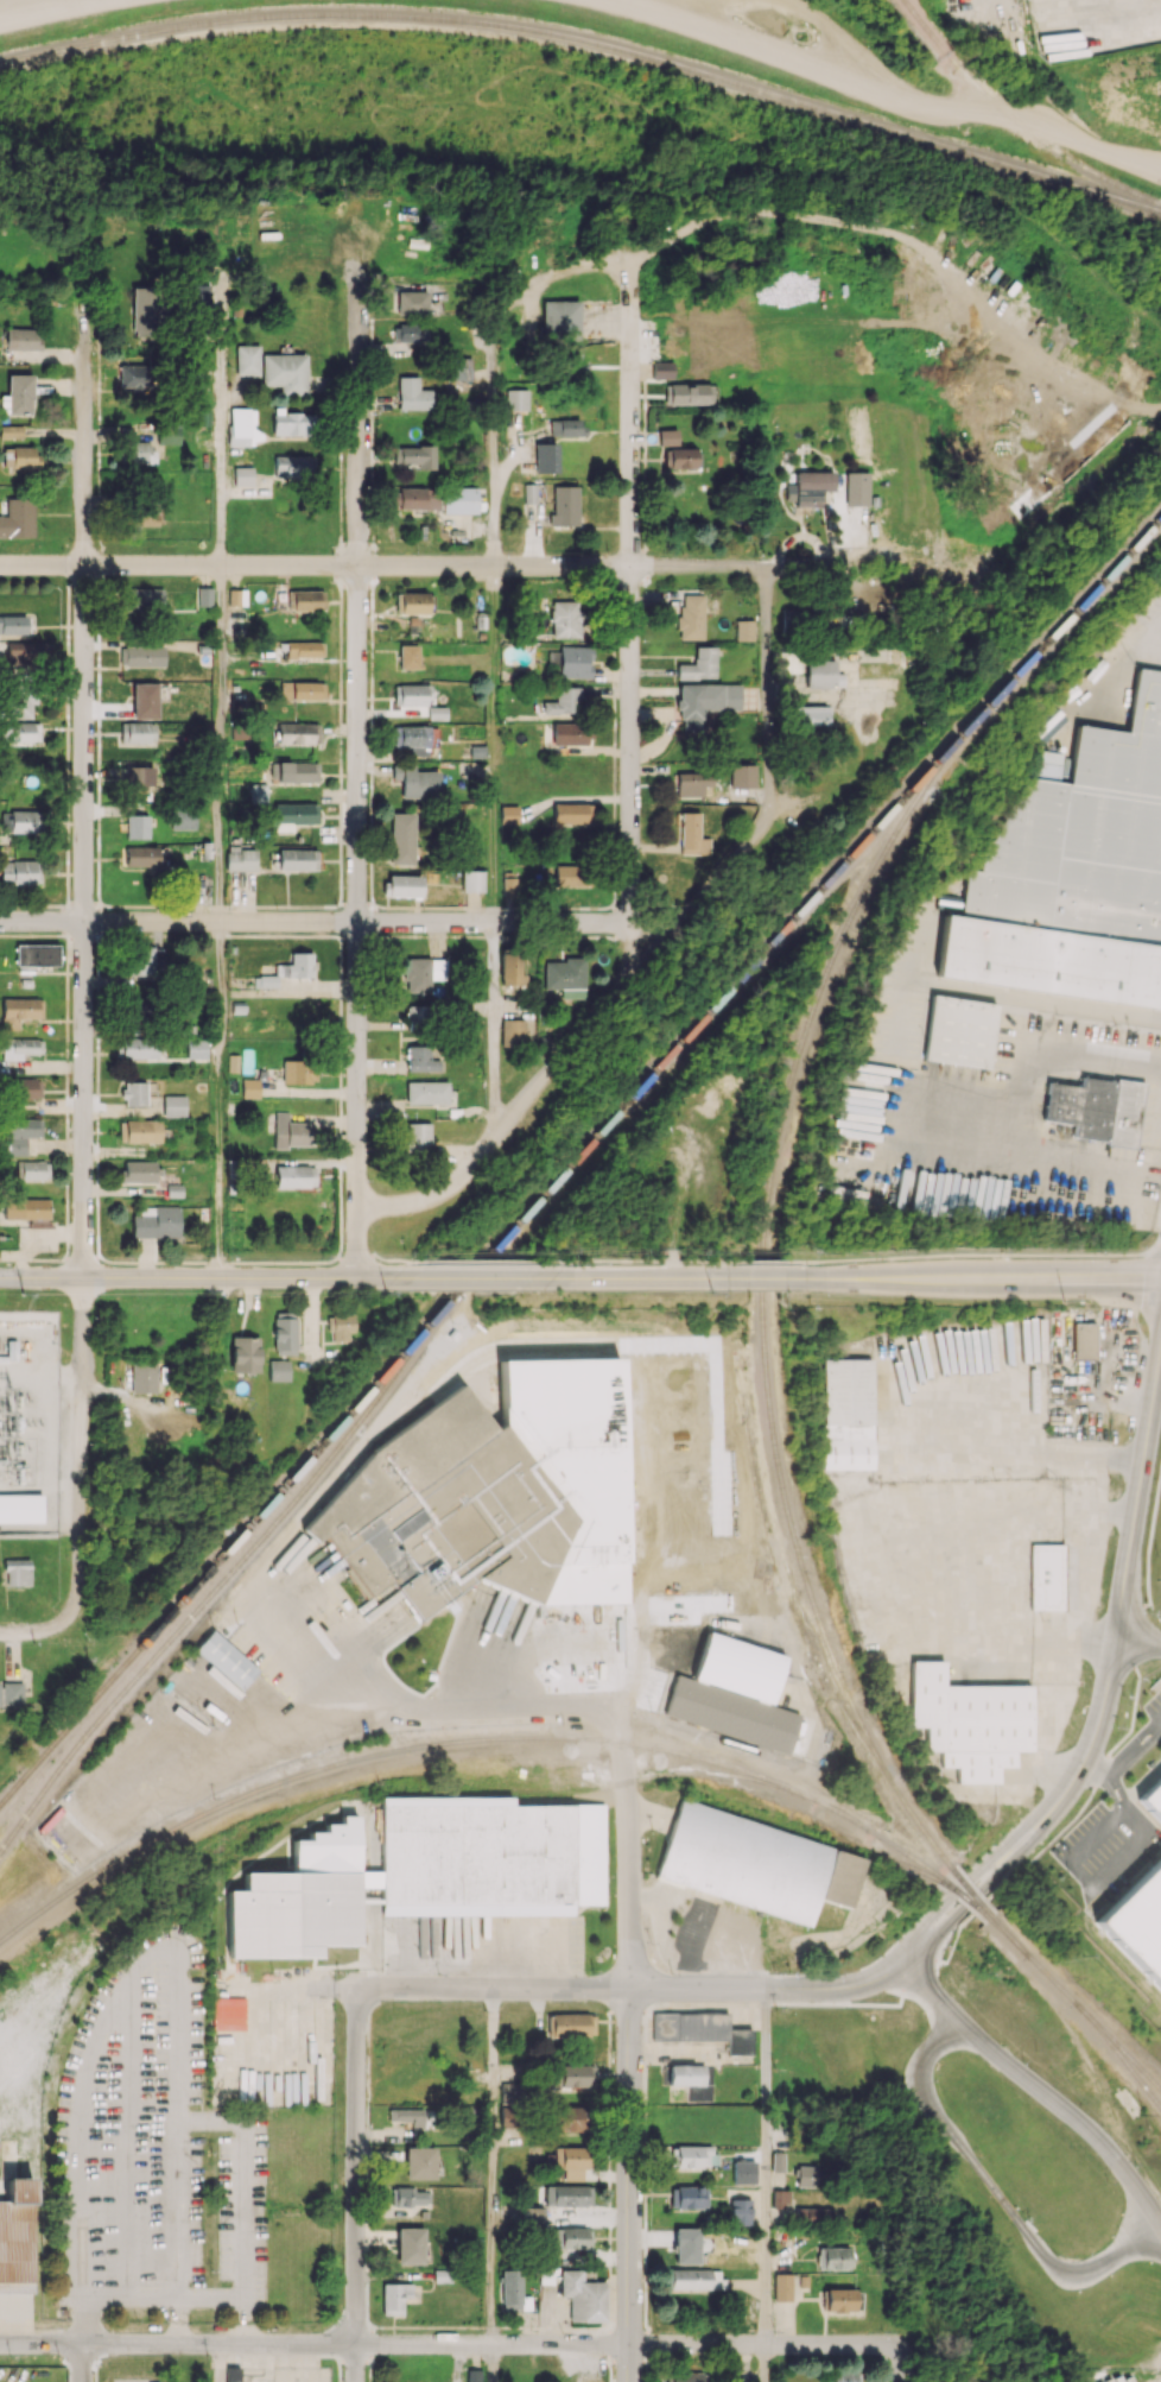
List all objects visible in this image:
road: (55, 10)
railway: (589, 40)
road: (882, 84)
railway: (1019, 120)
road: (546, 274)
building: (199, 293)
building: (412, 302)
building: (146, 314)
building: (560, 318)
building: (410, 333)
building: (23, 339)
building: (247, 359)
building: (462, 368)
building: (661, 369)
building: (285, 372)
building: (134, 378)
building: (690, 393)
building: (17, 394)
building: (412, 394)
building: (516, 399)
building: (291, 422)
road: (220, 423)
building: (241, 427)
building: (565, 427)
building: (11, 431)
building: (167, 435)
building: (667, 437)
building: (140, 451)
building: (414, 455)
building: (19, 456)
building: (545, 457)
building: (680, 457)
road: (493, 459)
building: (293, 463)
building: (242, 475)
building: (808, 488)
building: (856, 488)
building: (529, 492)
building: (415, 497)
building: (461, 499)
building: (564, 505)
building: (147, 506)
building: (17, 517)
road: (382, 566)
road: (798, 566)
building: (204, 596)
building: (236, 596)
building: (141, 599)
building: (307, 600)
building: (411, 602)
road: (630, 605)
building: (792, 615)
building: (690, 617)
building: (565, 619)
building: (13, 625)
building: (744, 630)
building: (303, 649)
building: (28, 652)
building: (140, 656)
building: (407, 656)
building: (575, 661)
building: (789, 662)
building: (699, 664)
building: (821, 674)
building: (302, 690)
road: (766, 693)
building: (410, 694)
building: (144, 700)
building: (563, 701)
building: (17, 703)
building: (704, 703)
building: (437, 713)
building: (811, 715)
building: (24, 731)
building: (137, 731)
building: (298, 733)
building: (569, 733)
building: (412, 738)
road: (221, 744)
road: (495, 744)
building: (297, 771)
building: (742, 776)
building: (137, 777)
building: (415, 781)
road: (357, 782)
building: (692, 783)
building: (259, 792)
building: (508, 814)
building: (571, 814)
building: (294, 815)
building: (183, 820)
building: (19, 821)
building: (137, 826)
building: (691, 835)
building: (402, 839)
building: (141, 855)
building: (240, 858)
building: (297, 859)
building: (19, 872)
building: (1073, 872)
building: (572, 876)
building: (472, 880)
building: (508, 884)
building: (402, 885)
road: (332, 922)
building: (37, 954)
road: (82, 956)
building: (146, 960)
building: (296, 966)
building: (510, 969)
building: (423, 973)
building: (563, 973)
building: (267, 981)
building: (19, 1011)
road: (499, 1029)
building: (960, 1031)
building: (512, 1032)
road: (579, 1038)
building: (20, 1047)
building: (138, 1048)
building: (196, 1048)
building: (420, 1059)
building: (298, 1072)
road: (1020, 1078)
building: (25, 1087)
building: (249, 1087)
building: (427, 1092)
building: (134, 1093)
road: (222, 1099)
building: (173, 1106)
building: (1096, 1108)
building: (139, 1131)
building: (290, 1131)
building: (20, 1133)
building: (417, 1135)
railway: (578, 1156)
building: (32, 1169)
building: (139, 1170)
building: (294, 1176)
building: (25, 1208)
building: (157, 1221)
road: (976, 1256)
road: (389, 1258)
road: (658, 1259)
road: (486, 1262)
road: (767, 1262)
road: (670, 1264)
road: (201, 1278)
railway: (766, 1278)
road: (481, 1280)
road: (642, 1280)
road: (770, 1280)
road: (988, 1280)
power tower: (23, 1295)
building: (340, 1326)
building: (284, 1333)
building: (1084, 1340)
building: (245, 1354)
building: (279, 1370)
building: (144, 1376)
building: (846, 1414)
power substation: (31, 1426)
road: (1027, 1449)
building: (20, 1508)
building: (444, 1511)
road: (1099, 1511)
road: (1149, 1533)
road: (976, 1560)
building: (17, 1572)
railway: (230, 1573)
building: (1046, 1577)
railway: (775, 1579)
road: (1086, 1579)
road: (36, 1631)
road: (1074, 1645)
road: (1138, 1648)
building: (226, 1658)
road: (1109, 1683)
building: (11, 1694)
building: (734, 1694)
road: (431, 1707)
parking lot: (1154, 1707)
building: (972, 1721)
road: (1157, 1725)
road: (1154, 1729)
railway: (620, 1740)
road: (1111, 1765)
railway: (694, 1771)
road: (1106, 1774)
road: (624, 1777)
railway: (284, 1778)
road: (290, 1786)
railway: (795, 1790)
building: (1154, 1790)
road: (1121, 1801)
road: (1064, 1827)
railway: (818, 1836)
parking lot: (1108, 1846)
building: (756, 1864)
building: (424, 1871)
road: (1093, 1878)
railway: (970, 1891)
railway: (958, 1893)
railway: (965, 1896)
building: (1137, 1915)
railway: (1009, 1934)
road: (133, 1970)
road: (500, 1988)
road: (778, 1989)
railway: (1079, 2008)
building: (570, 2024)
building: (702, 2029)
railway: (1117, 2045)
building: (578, 2075)
road: (1036, 2086)
building: (510, 2099)
building: (407, 2116)
building: (571, 2118)
building: (692, 2155)
building: (569, 2161)
building: (778, 2161)
building: (419, 2162)
road: (494, 2166)
road: (767, 2166)
building: (743, 2172)
building: (806, 2175)
road: (630, 2185)
road: (355, 2186)
building: (567, 2194)
road: (1002, 2194)
building: (412, 2197)
building: (689, 2197)
building: (781, 2198)
building: (740, 2211)
building: (812, 2213)
building: (533, 2216)
building: (15, 2236)
building: (569, 2237)
building: (410, 2245)
road: (242, 2254)
building: (833, 2257)
building: (696, 2279)
building: (782, 2287)
building: (513, 2291)
building: (583, 2296)
building: (394, 2298)
building: (839, 2300)
road: (315, 2343)
road: (766, 2344)
road: (82, 2362)
road: (217, 2362)
road: (493, 2363)
road: (767, 2363)
road: (902, 2365)
building: (231, 2374)
building: (687, 2377)

